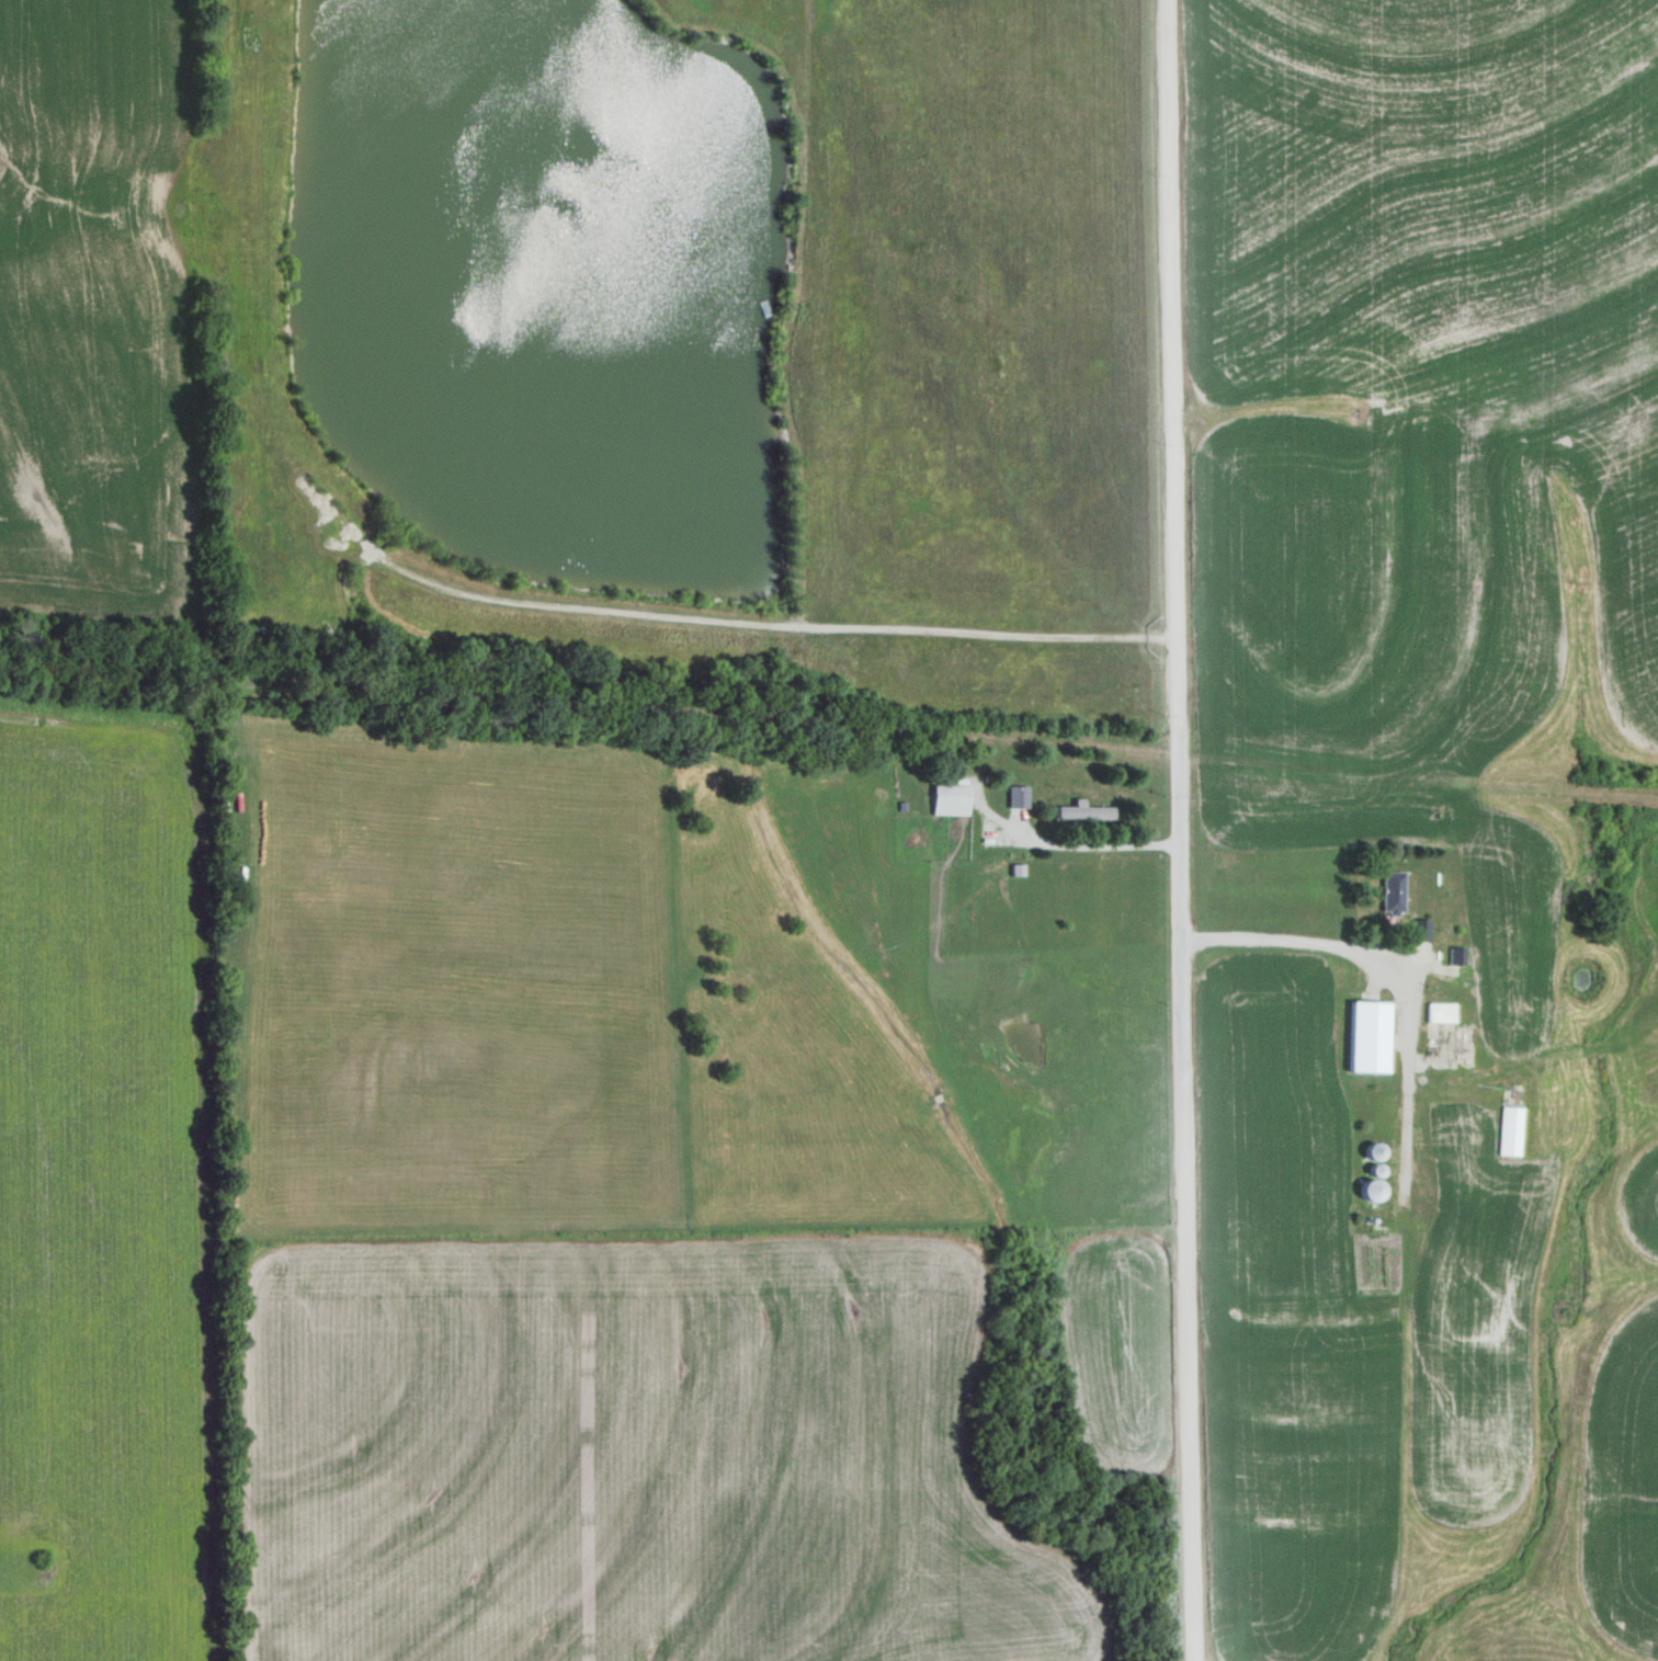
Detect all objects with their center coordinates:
dam: (564, 613)
building: (1019, 796)
building: (950, 798)
building: (1083, 811)
road: (1181, 830)
building: (1392, 891)
building: (1419, 929)
building: (1456, 956)
building: (1439, 1012)
building: (1367, 1037)
building: (1510, 1129)
building: (1373, 1149)
building: (1370, 1188)

